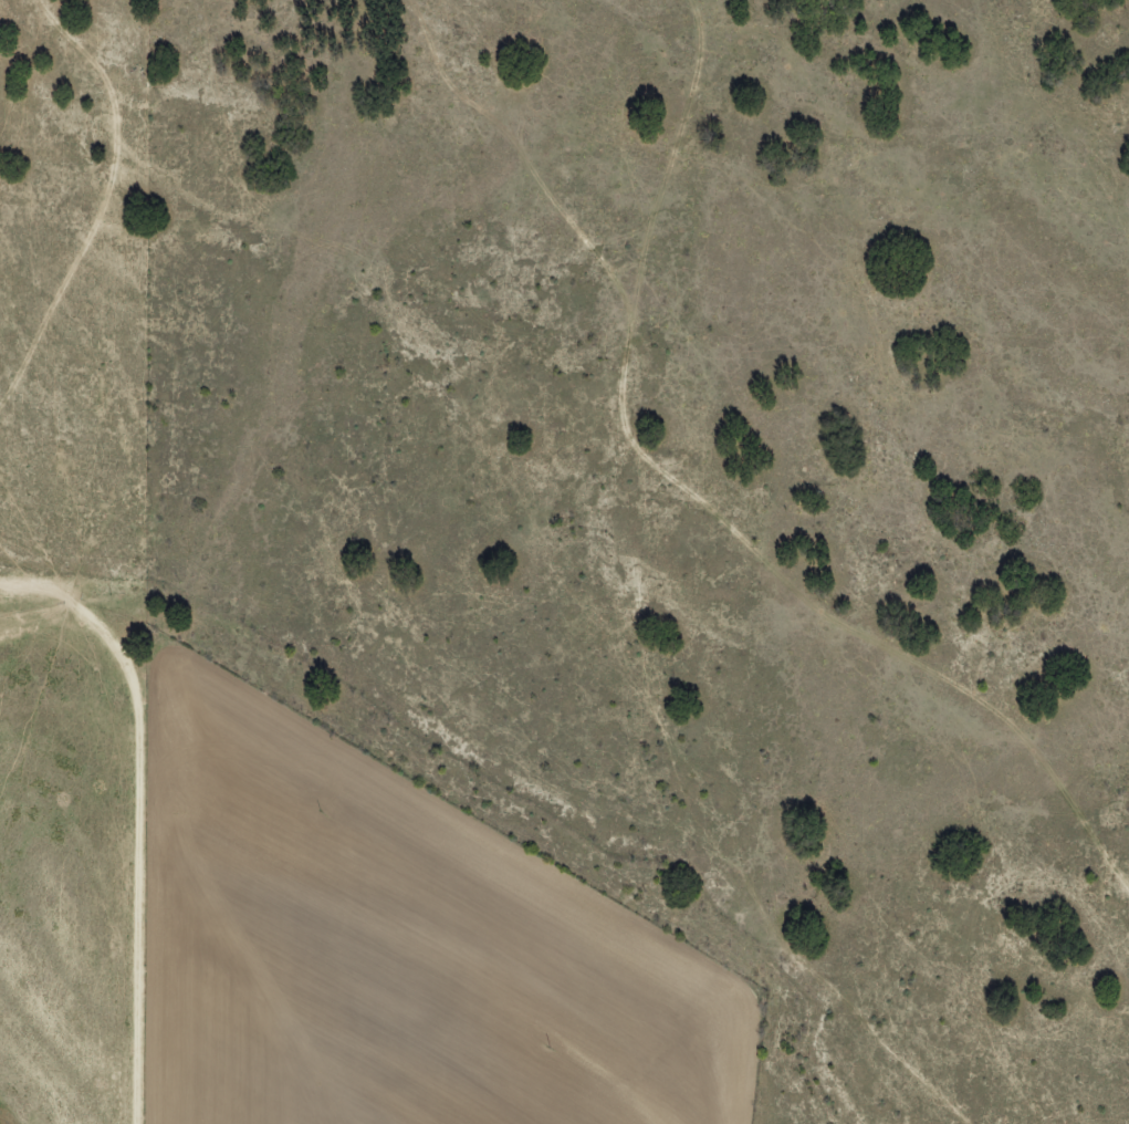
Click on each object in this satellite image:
road: (128, 815)

